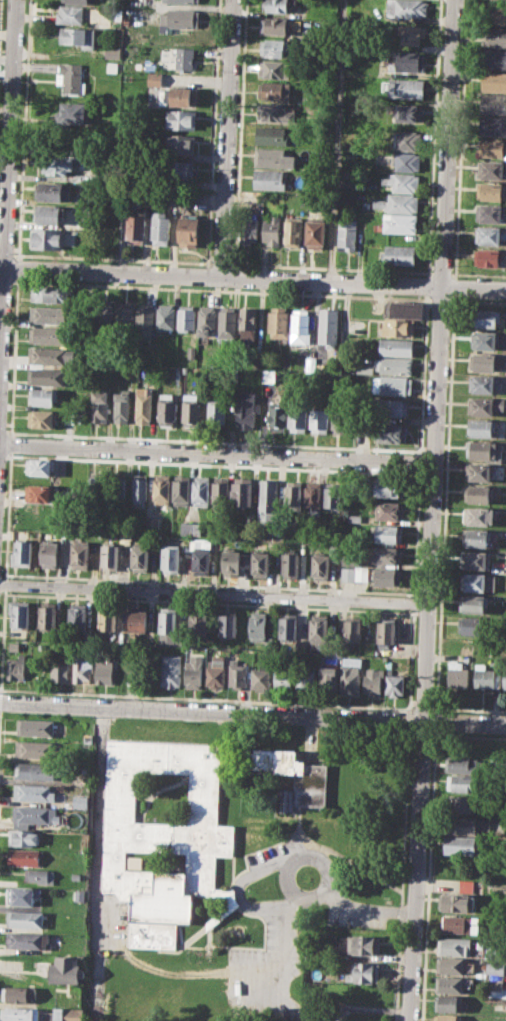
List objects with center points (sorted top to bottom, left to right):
building: (76, 1)
building: (184, 1)
building: (137, 2)
building: (276, 6)
building: (407, 8)
building: (70, 14)
building: (498, 15)
building: (181, 17)
building: (274, 24)
building: (411, 33)
building: (79, 36)
building: (496, 36)
building: (276, 46)
building: (113, 52)
building: (185, 58)
building: (494, 58)
building: (407, 61)
building: (112, 66)
building: (276, 68)
building: (72, 77)
building: (155, 78)
building: (494, 81)
building: (407, 88)
building: (274, 92)
building: (178, 96)
building: (493, 103)
building: (75, 112)
building: (407, 112)
building: (275, 113)
building: (180, 119)
building: (492, 125)
building: (270, 135)
road: (227, 138)
road: (459, 138)
road: (336, 140)
building: (406, 140)
building: (182, 143)
building: (492, 148)
building: (319, 156)
building: (273, 157)
building: (400, 160)
building: (58, 164)
building: (178, 169)
building: (491, 169)
building: (347, 173)
road: (7, 174)
building: (268, 179)
building: (403, 182)
building: (53, 191)
building: (491, 191)
building: (398, 203)
building: (489, 213)
building: (49, 214)
building: (400, 222)
building: (135, 225)
building: (160, 228)
building: (189, 230)
building: (249, 230)
building: (272, 230)
building: (293, 231)
building: (315, 234)
building: (347, 234)
building: (489, 236)
building: (47, 237)
road: (6, 253)
building: (400, 254)
road: (112, 257)
building: (489, 257)
road: (221, 262)
road: (331, 267)
road: (442, 273)
road: (478, 274)
road: (252, 277)
road: (6, 279)
road: (453, 286)
road: (221, 289)
building: (50, 293)
road: (438, 299)
road: (477, 301)
building: (404, 308)
building: (50, 314)
building: (102, 316)
building: (165, 316)
building: (124, 318)
building: (186, 318)
building: (485, 318)
building: (206, 319)
building: (145, 320)
building: (278, 321)
building: (248, 322)
building: (227, 324)
building: (329, 326)
building: (301, 327)
building: (398, 327)
building: (48, 334)
building: (484, 339)
building: (396, 346)
building: (191, 352)
building: (50, 355)
building: (259, 360)
building: (483, 361)
building: (311, 364)
building: (394, 364)
building: (363, 367)
building: (46, 376)
building: (271, 376)
building: (393, 384)
building: (481, 384)
building: (43, 396)
building: (99, 406)
building: (121, 406)
building: (143, 406)
building: (484, 406)
building: (394, 408)
building: (190, 409)
building: (246, 409)
building: (166, 410)
building: (216, 412)
building: (43, 418)
building: (276, 418)
building: (298, 419)
building: (320, 419)
building: (340, 420)
building: (482, 428)
building: (389, 433)
building: (486, 450)
road: (216, 452)
building: (40, 467)
building: (479, 471)
building: (94, 487)
building: (116, 487)
building: (139, 487)
building: (387, 488)
building: (161, 489)
building: (182, 490)
building: (38, 491)
building: (201, 491)
building: (220, 493)
building: (333, 494)
building: (478, 494)
building: (293, 495)
building: (243, 496)
building: (314, 496)
building: (268, 500)
road: (444, 503)
road: (431, 510)
building: (389, 511)
building: (478, 515)
building: (354, 517)
building: (151, 524)
building: (190, 527)
building: (389, 534)
building: (475, 537)
building: (334, 552)
building: (23, 554)
building: (50, 554)
building: (79, 555)
building: (388, 555)
building: (108, 556)
building: (352, 556)
building: (169, 558)
building: (139, 559)
building: (476, 559)
building: (201, 561)
building: (231, 562)
building: (259, 564)
building: (290, 565)
building: (320, 566)
building: (354, 574)
building: (388, 577)
building: (477, 582)
road: (214, 593)
building: (472, 603)
building: (21, 614)
building: (47, 615)
building: (76, 616)
building: (106, 618)
building: (137, 620)
building: (167, 621)
building: (198, 622)
building: (227, 624)
building: (257, 626)
building: (472, 626)
building: (287, 628)
building: (318, 630)
building: (351, 631)
building: (385, 631)
building: (13, 645)
building: (298, 645)
building: (16, 667)
building: (81, 668)
building: (171, 670)
building: (59, 671)
building: (103, 671)
building: (193, 671)
building: (215, 671)
building: (350, 673)
building: (457, 674)
building: (237, 675)
building: (486, 676)
building: (259, 678)
building: (306, 678)
building: (285, 679)
building: (327, 679)
building: (504, 679)
building: (372, 680)
building: (395, 684)
road: (207, 697)
road: (423, 707)
road: (469, 709)
road: (253, 712)
road: (434, 720)
building: (35, 727)
building: (86, 737)
building: (34, 748)
building: (461, 764)
building: (36, 771)
building: (294, 778)
building: (460, 783)
building: (34, 792)
building: (80, 800)
building: (463, 804)
building: (32, 814)
building: (460, 824)
building: (162, 831)
building: (24, 837)
building: (459, 845)
parking lot: (275, 856)
building: (24, 857)
road: (95, 861)
building: (40, 875)
road: (428, 875)
building: (75, 876)
road: (242, 878)
road: (288, 883)
building: (465, 885)
road: (323, 893)
building: (79, 894)
building: (23, 895)
building: (458, 902)
road: (370, 910)
parking lot: (359, 915)
building: (24, 918)
building: (459, 924)
building: (26, 940)
building: (358, 944)
building: (454, 946)
building: (492, 953)
road: (285, 961)
building: (449, 964)
building: (66, 969)
building: (494, 969)
building: (362, 971)
parking lot: (266, 973)
building: (449, 984)
building: (493, 984)
building: (20, 993)
road: (255, 999)
building: (447, 1002)
building: (18, 1014)
building: (63, 1014)
building: (447, 1017)

